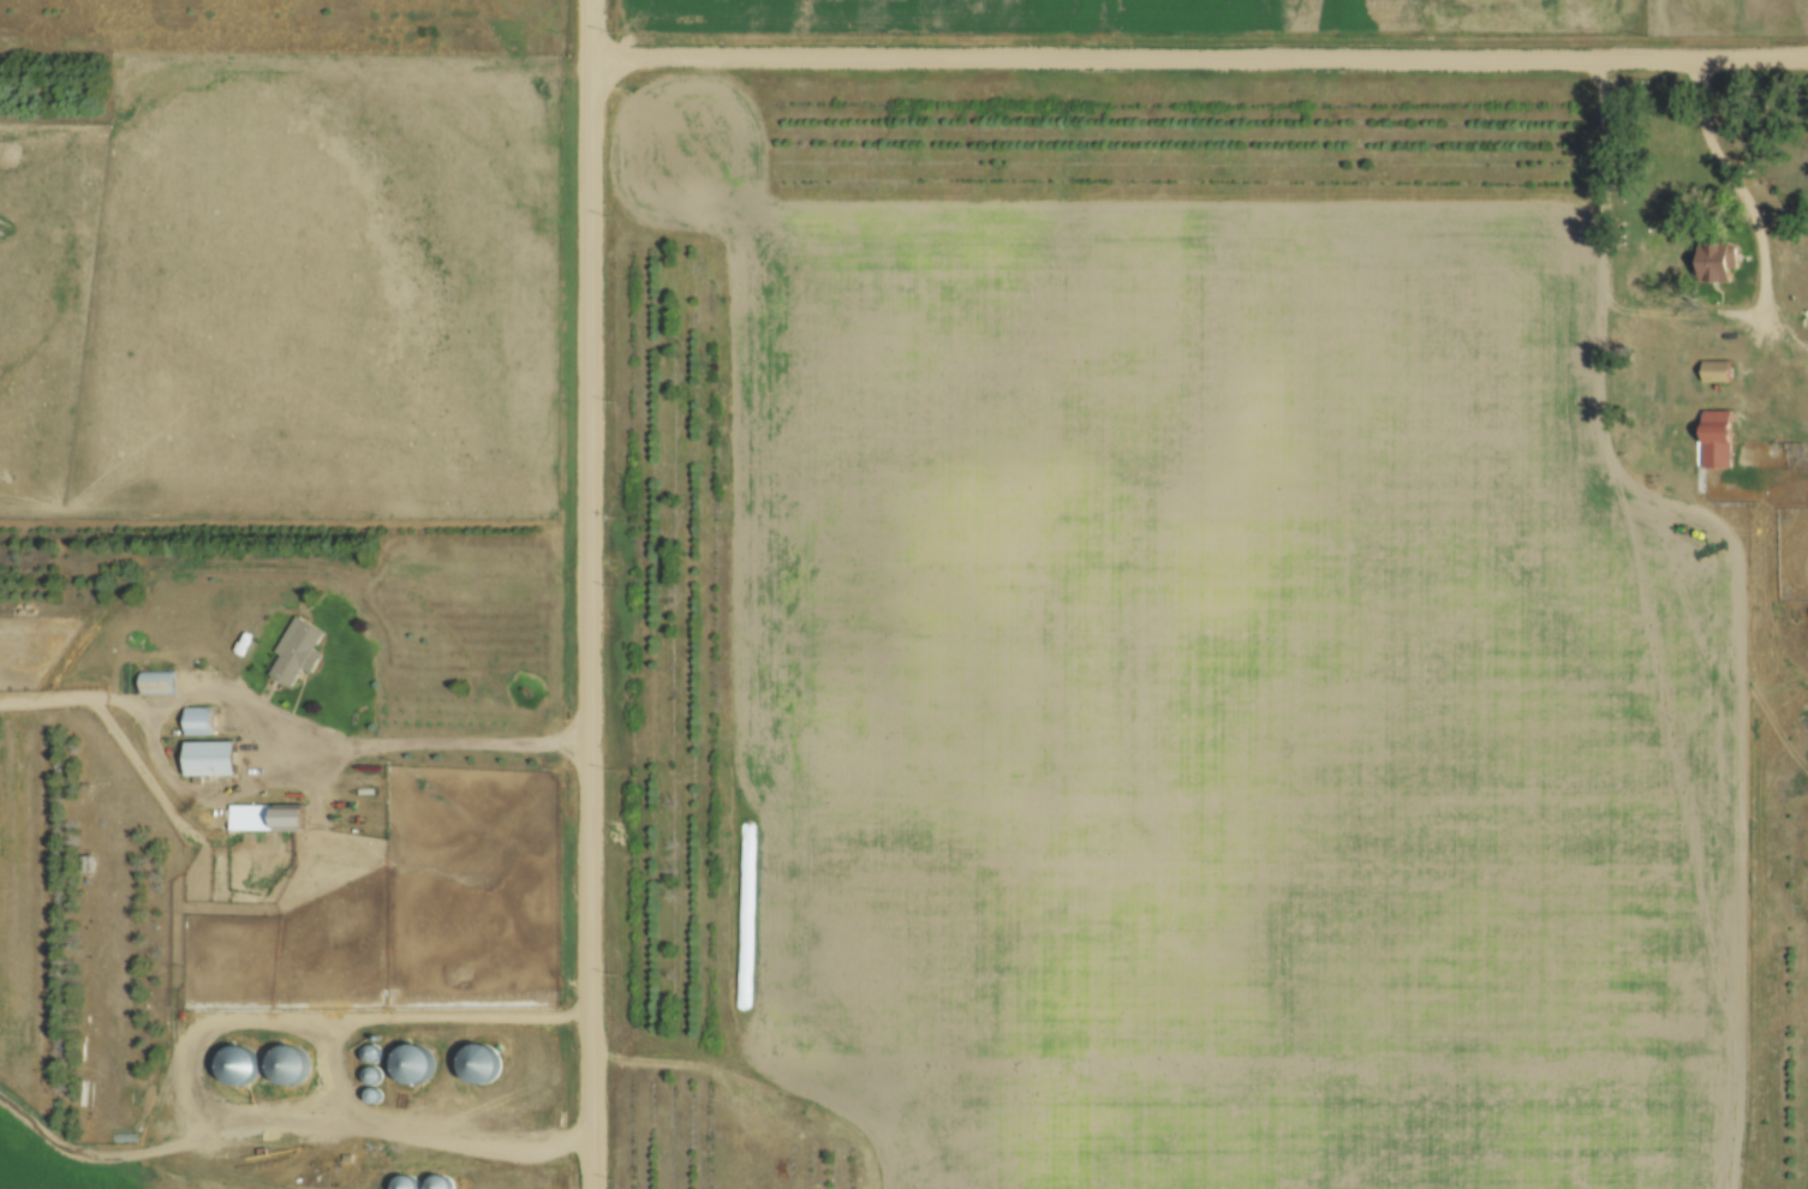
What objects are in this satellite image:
crop: (1273, 13)
road: (1200, 55)
road: (1743, 185)
building: (1718, 261)
crop: (287, 292)
building: (1806, 317)
building: (1718, 369)
building: (1717, 438)
building: (1807, 454)
road: (592, 594)
building: (297, 653)
building: (160, 680)
crop: (1209, 691)
road: (76, 692)
building: (203, 718)
building: (211, 758)
road: (249, 784)
building: (269, 815)
road: (312, 1020)
building: (371, 1052)
silo: (371, 1052)
building: (484, 1060)
silo: (484, 1060)
building: (290, 1064)
silo: (290, 1064)
building: (414, 1064)
silo: (414, 1064)
building: (237, 1065)
silo: (237, 1065)
building: (375, 1075)
silo: (375, 1075)
building: (374, 1098)
silo: (374, 1098)
road: (290, 1130)
crop: (66, 1167)
building: (407, 1182)
silo: (407, 1182)
building: (442, 1182)
silo: (442, 1182)

